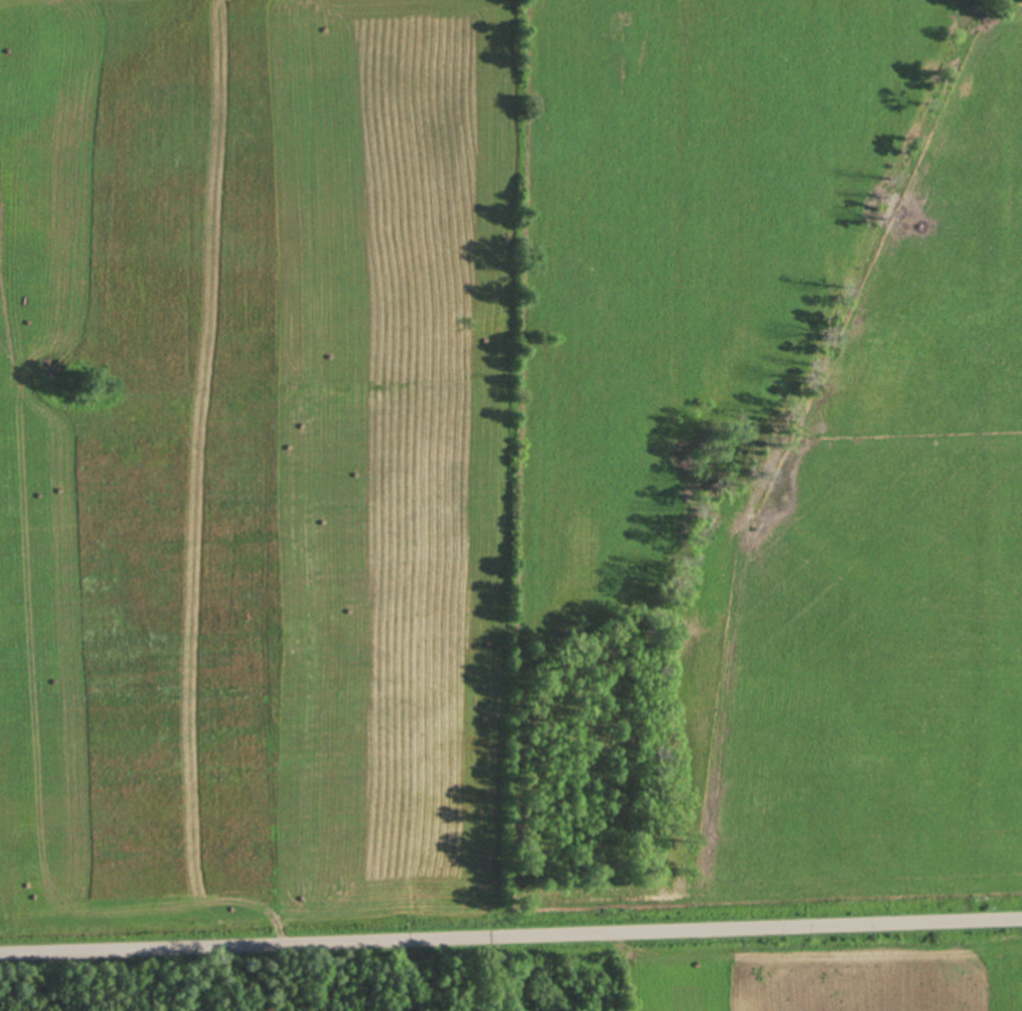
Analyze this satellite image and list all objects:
road: (511, 939)

